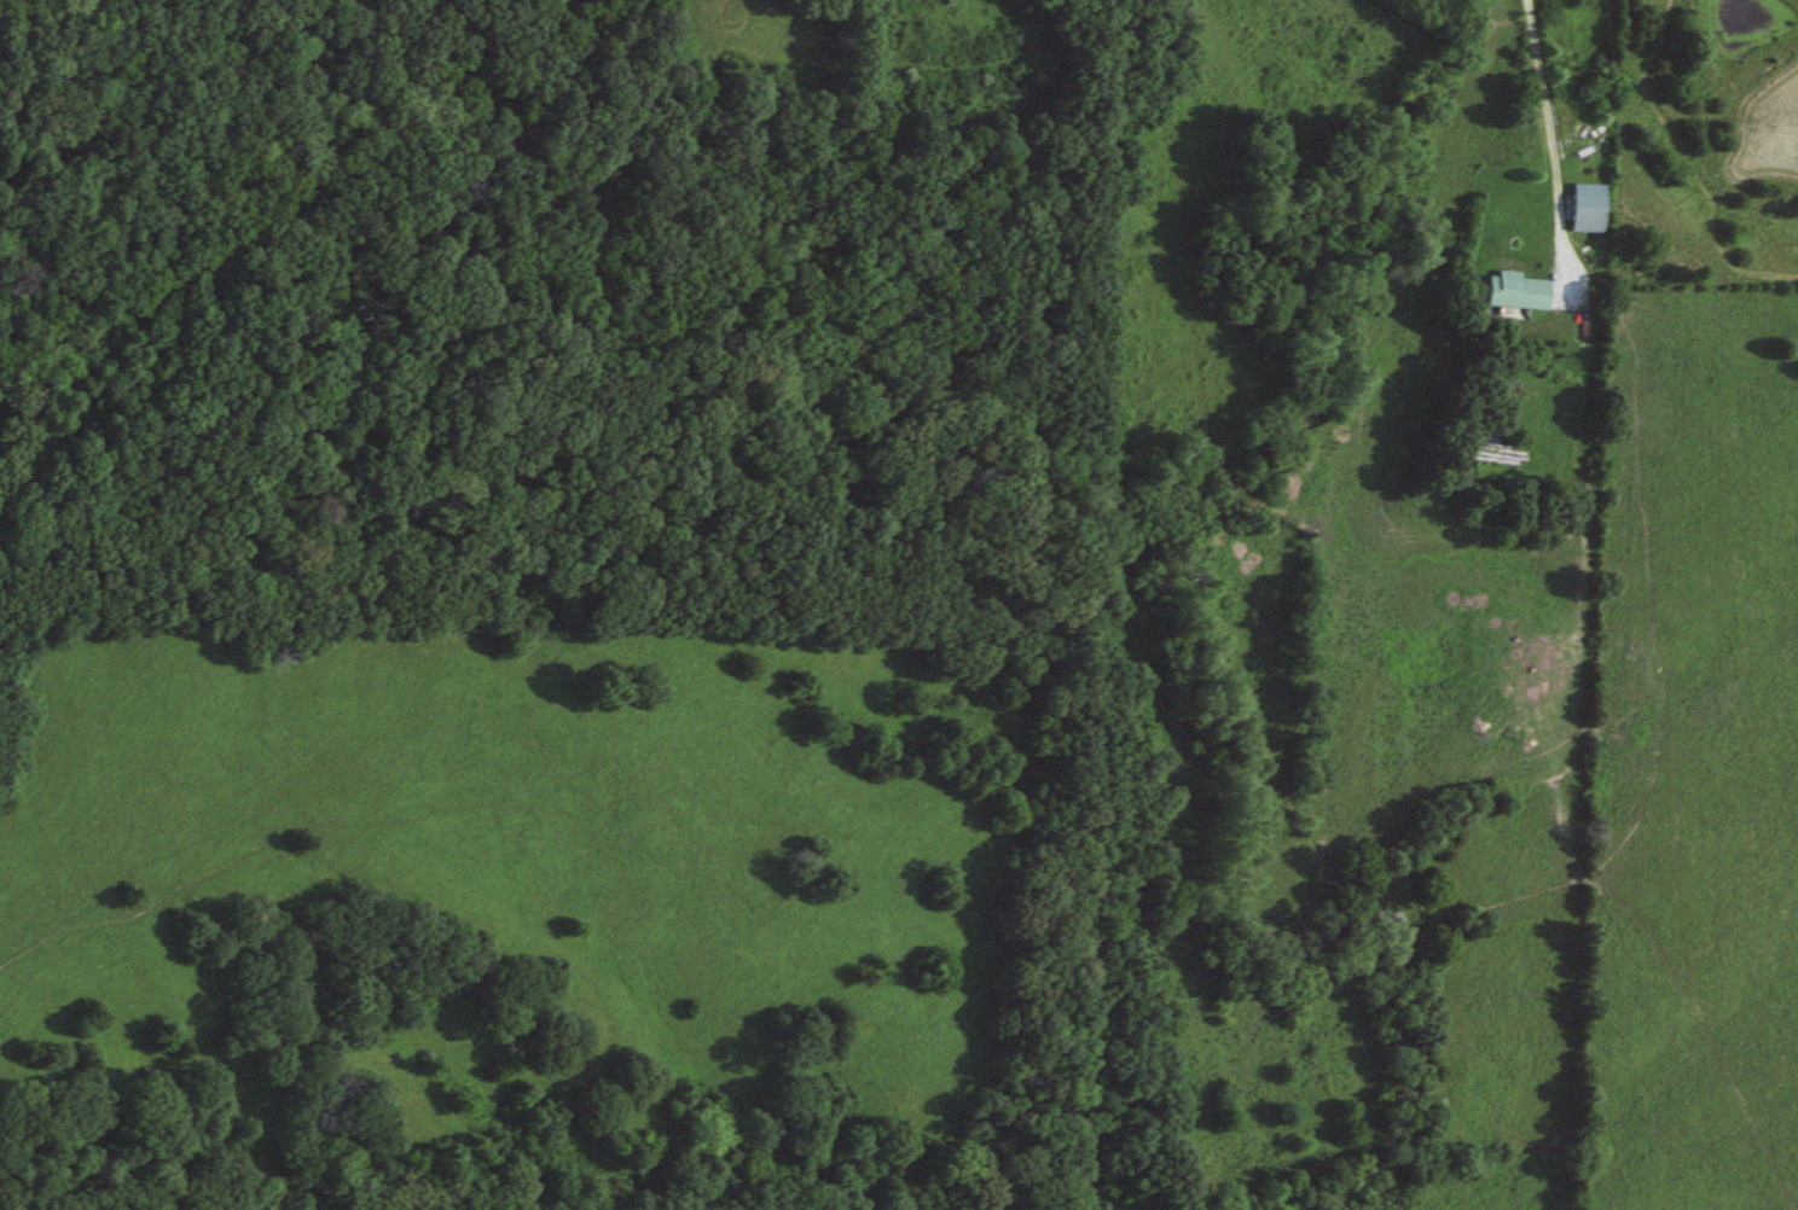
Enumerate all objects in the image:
road: (1544, 142)
building: (1579, 208)
building: (1507, 290)

